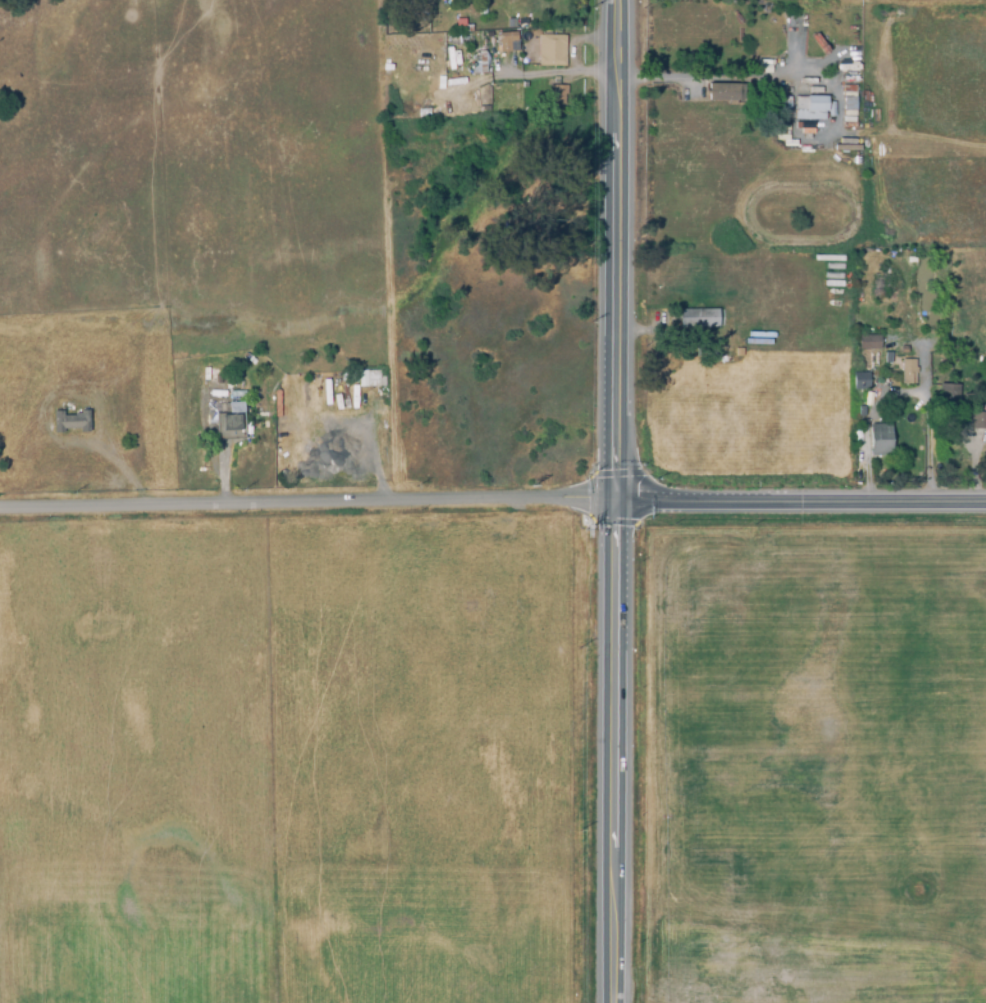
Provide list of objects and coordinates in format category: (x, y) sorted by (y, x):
building: (428, 0)
building: (482, 8)
building: (428, 13)
building: (463, 19)
building: (513, 20)
building: (452, 39)
building: (506, 42)
building: (551, 50)
road: (747, 76)
building: (850, 91)
building: (726, 93)
building: (558, 94)
building: (848, 106)
building: (810, 108)
building: (780, 110)
building: (848, 122)
road: (914, 134)
road: (608, 252)
building: (902, 318)
building: (689, 322)
building: (871, 342)
building: (902, 349)
building: (709, 353)
building: (908, 376)
building: (368, 378)
building: (861, 381)
building: (949, 404)
building: (861, 411)
road: (925, 411)
building: (979, 420)
building: (71, 422)
building: (225, 424)
building: (880, 440)
road: (866, 461)
road: (796, 503)
road: (304, 507)
road: (605, 754)

